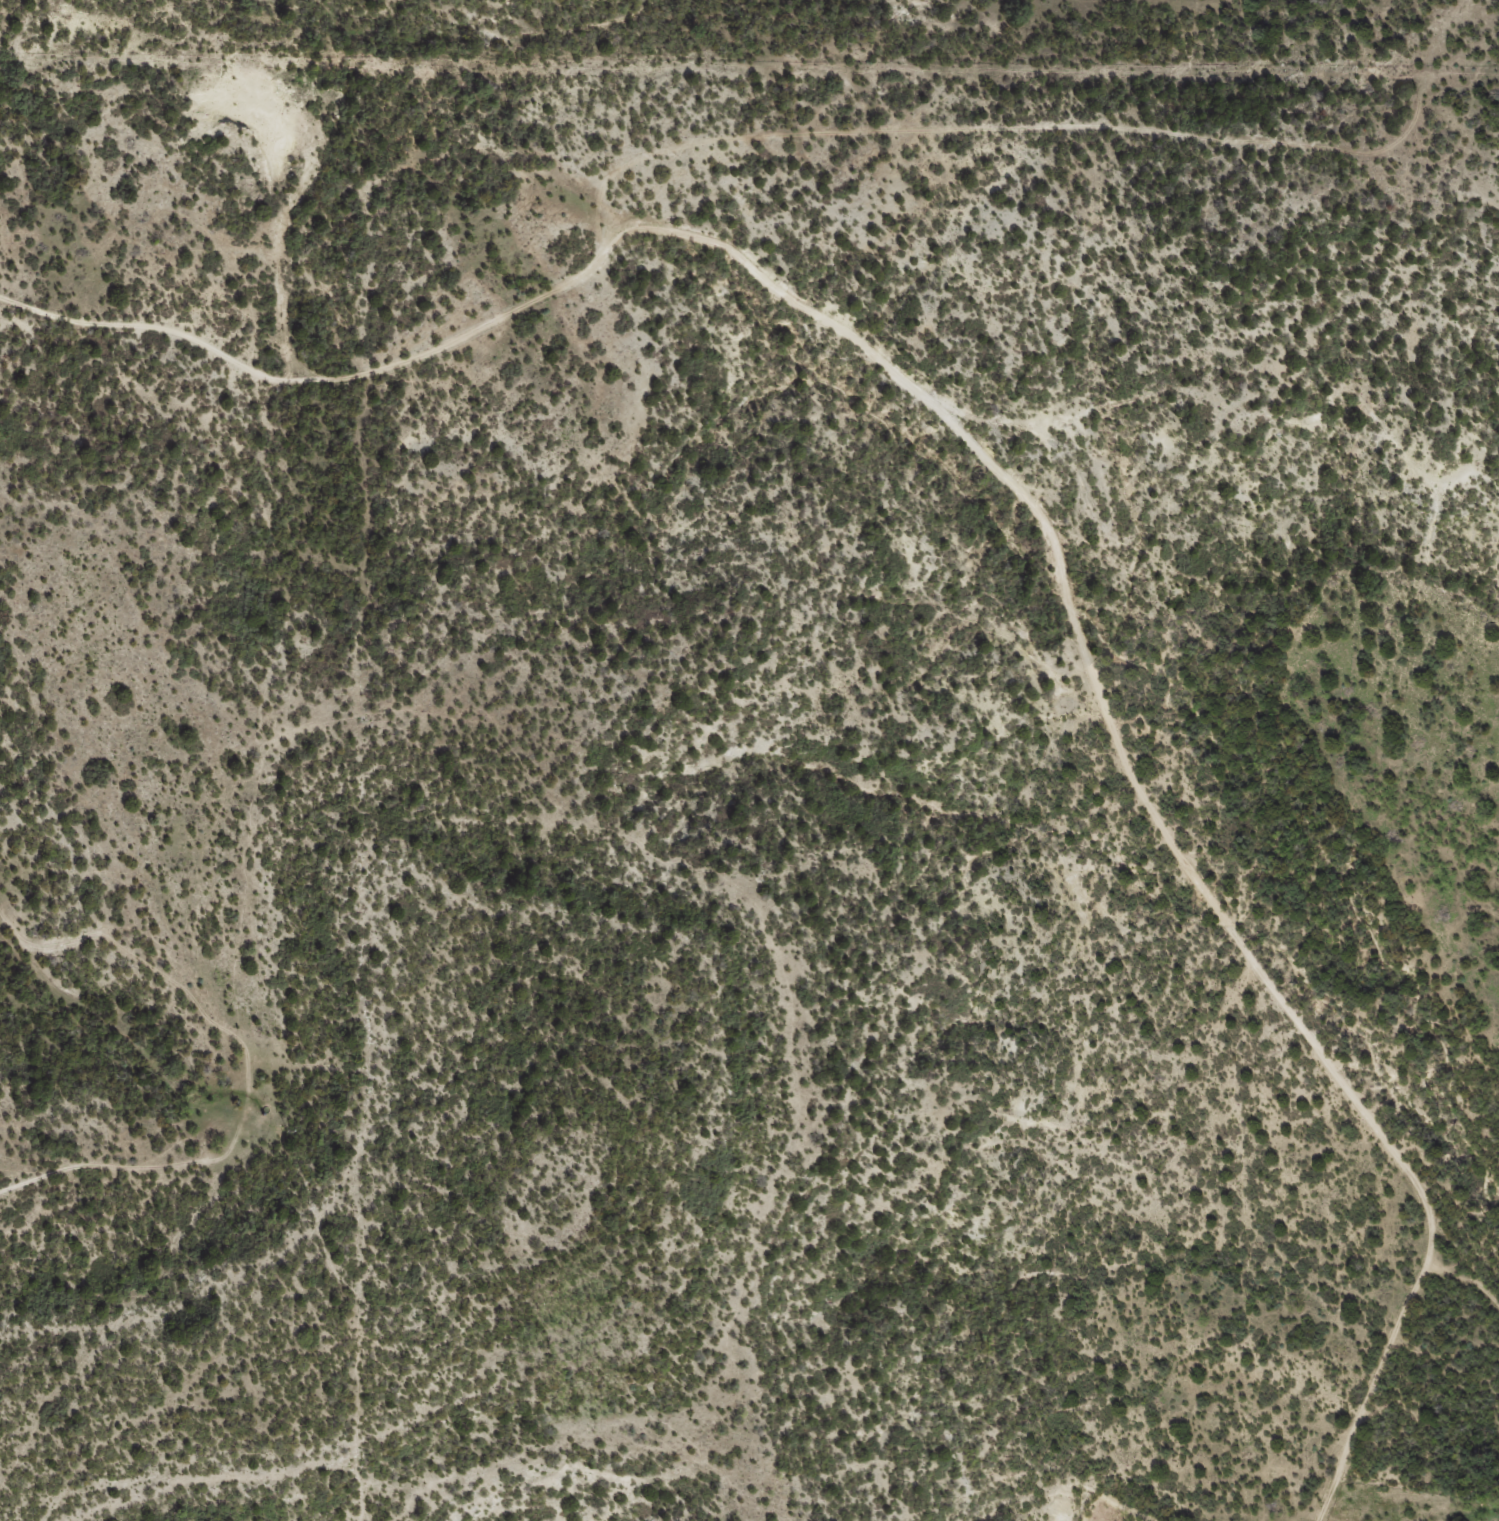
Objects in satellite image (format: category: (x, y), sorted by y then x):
road: (343, 402)
road: (1089, 697)
road: (130, 1223)
road: (1461, 1256)

